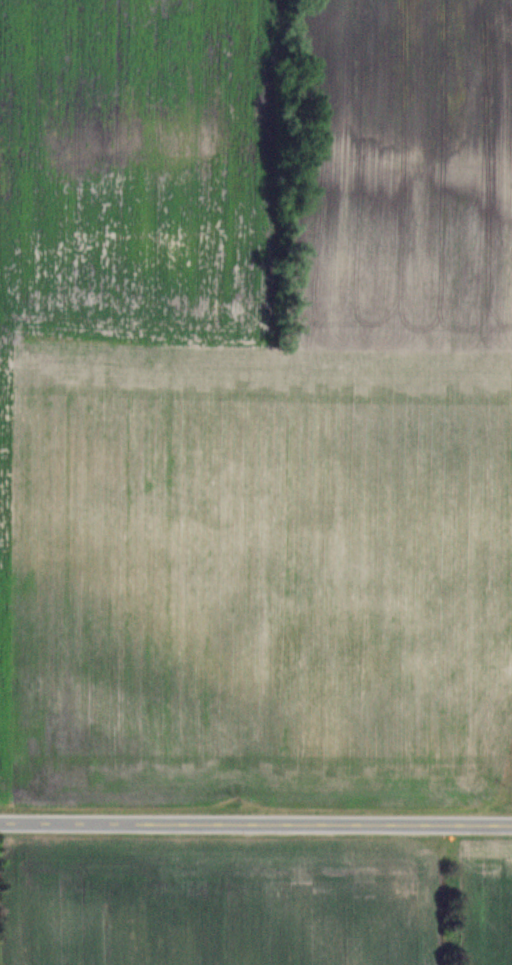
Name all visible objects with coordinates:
road: (256, 826)

